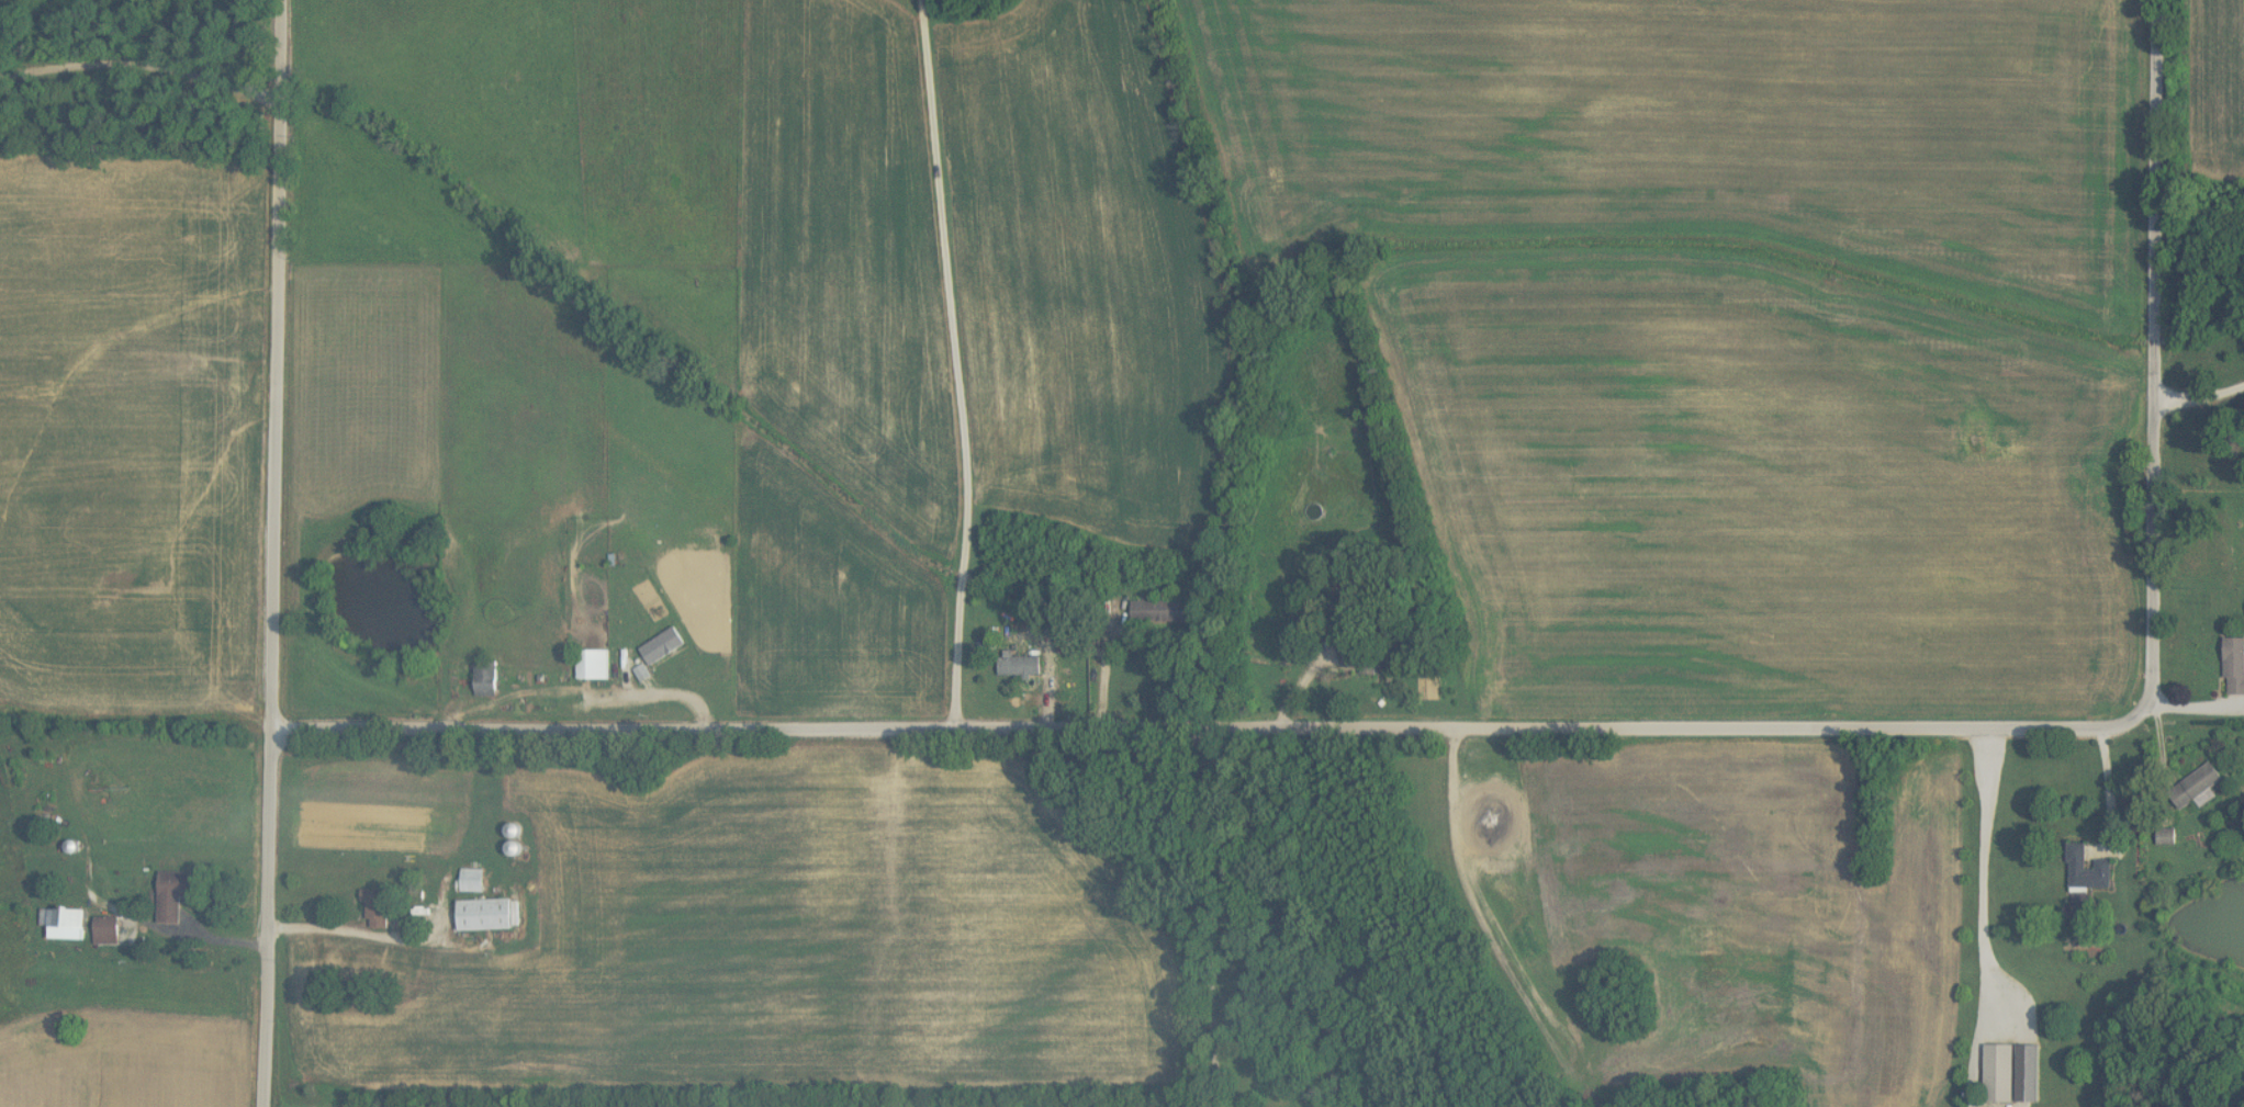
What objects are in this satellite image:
road: (142, 66)
road: (954, 361)
road: (2197, 402)
road: (2151, 438)
road: (274, 553)
building: (1157, 611)
building: (1069, 642)
building: (662, 646)
building: (1360, 656)
building: (593, 665)
building: (1020, 666)
road: (1103, 667)
building: (486, 679)
road: (664, 691)
road: (1131, 722)
road: (928, 769)
road: (2119, 782)
building: (2198, 787)
building: (2166, 837)
building: (2087, 870)
road: (1989, 874)
building: (472, 880)
building: (175, 894)
building: (378, 912)
road: (1208, 914)
building: (485, 915)
building: (65, 924)
road: (326, 928)
building: (105, 930)
building: (1998, 1074)

